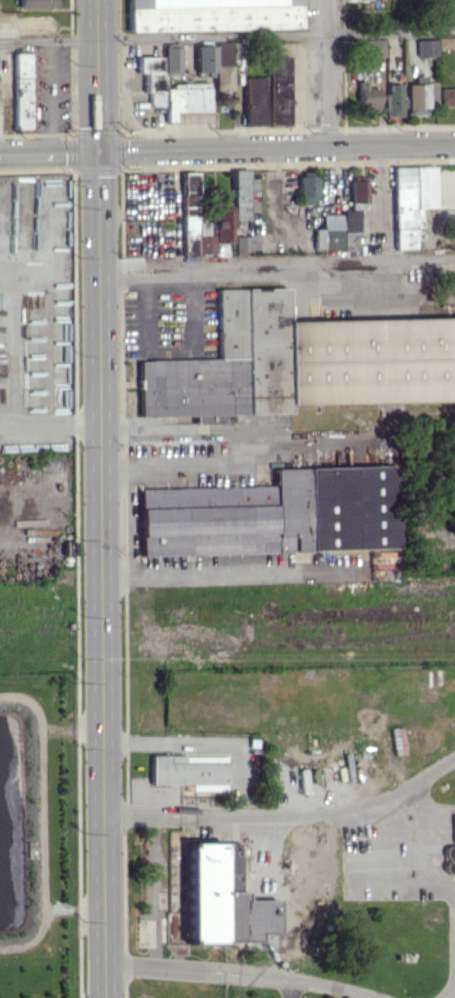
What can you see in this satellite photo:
building: (34, 3)
building: (449, 8)
building: (207, 12)
road: (439, 14)
building: (33, 23)
road: (227, 33)
building: (443, 42)
building: (373, 47)
building: (425, 47)
building: (203, 58)
building: (170, 60)
road: (344, 62)
building: (4, 63)
building: (222, 66)
road: (328, 72)
road: (95, 75)
building: (150, 77)
building: (21, 91)
building: (430, 94)
road: (49, 95)
building: (365, 96)
building: (446, 97)
building: (414, 99)
building: (392, 100)
building: (184, 101)
road: (328, 126)
road: (275, 146)
traffic signals: (96, 150)
road: (47, 151)
building: (306, 189)
building: (239, 192)
building: (356, 194)
building: (409, 202)
road: (152, 210)
road: (124, 211)
building: (190, 212)
building: (222, 225)
building: (336, 231)
building: (205, 238)
building: (240, 243)
road: (275, 269)
road: (168, 347)
building: (301, 360)
road: (48, 428)
road: (243, 448)
road: (422, 505)
building: (273, 511)
road: (244, 569)
road: (99, 573)
building: (189, 771)
road: (425, 807)
road: (284, 819)
wastewater plant: (279, 834)
building: (450, 855)
road: (435, 865)
building: (201, 890)
road: (153, 893)
road: (453, 897)
road: (269, 901)
road: (239, 974)
road: (452, 985)
road: (281, 988)
parking lot: (312, 991)

